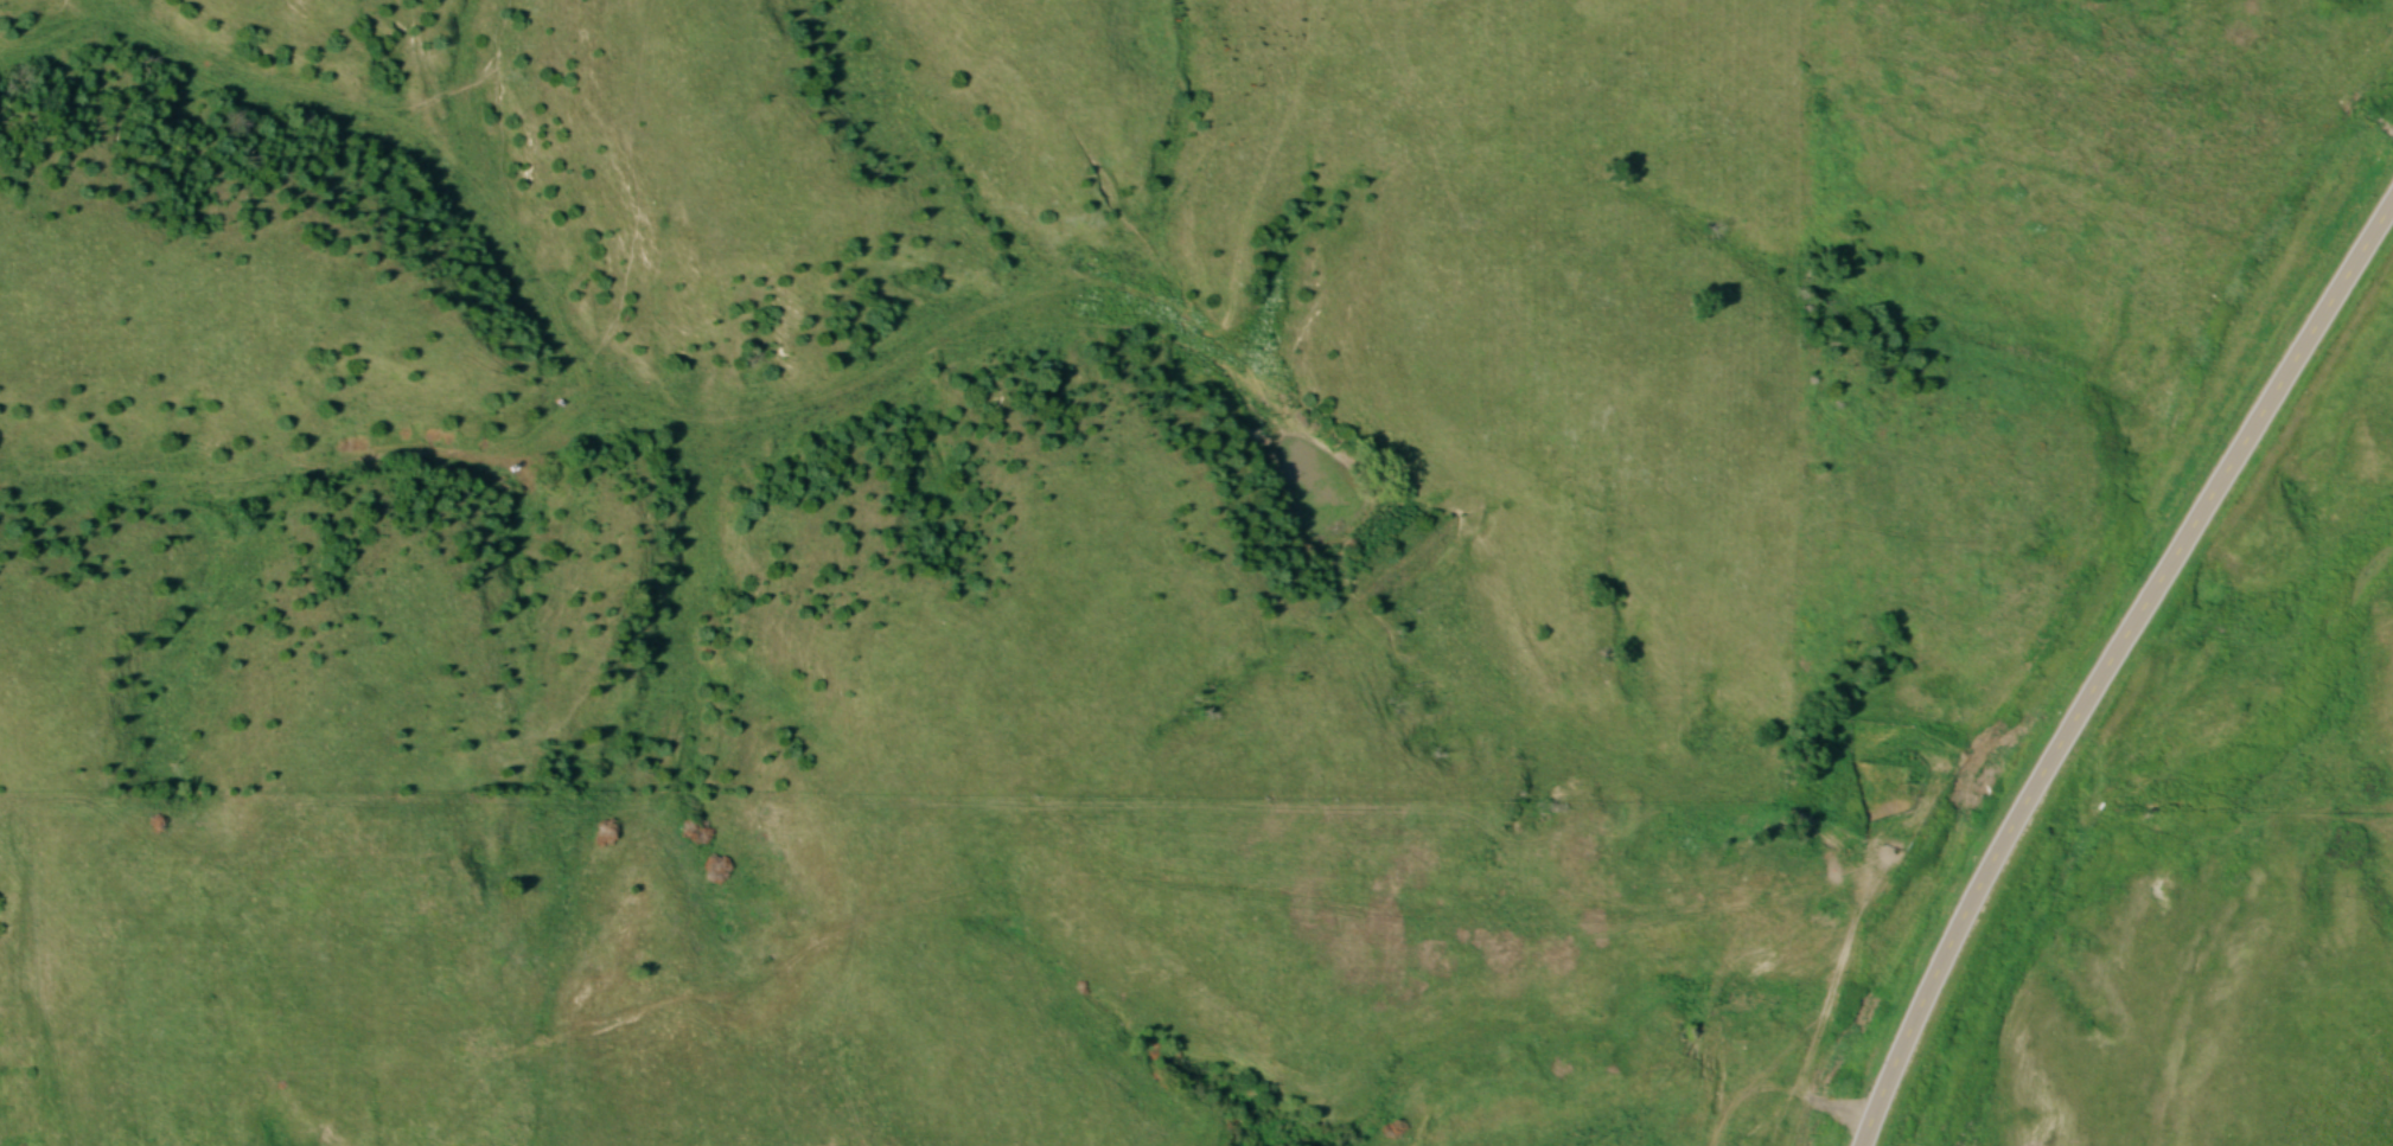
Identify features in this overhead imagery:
road: (2108, 665)

